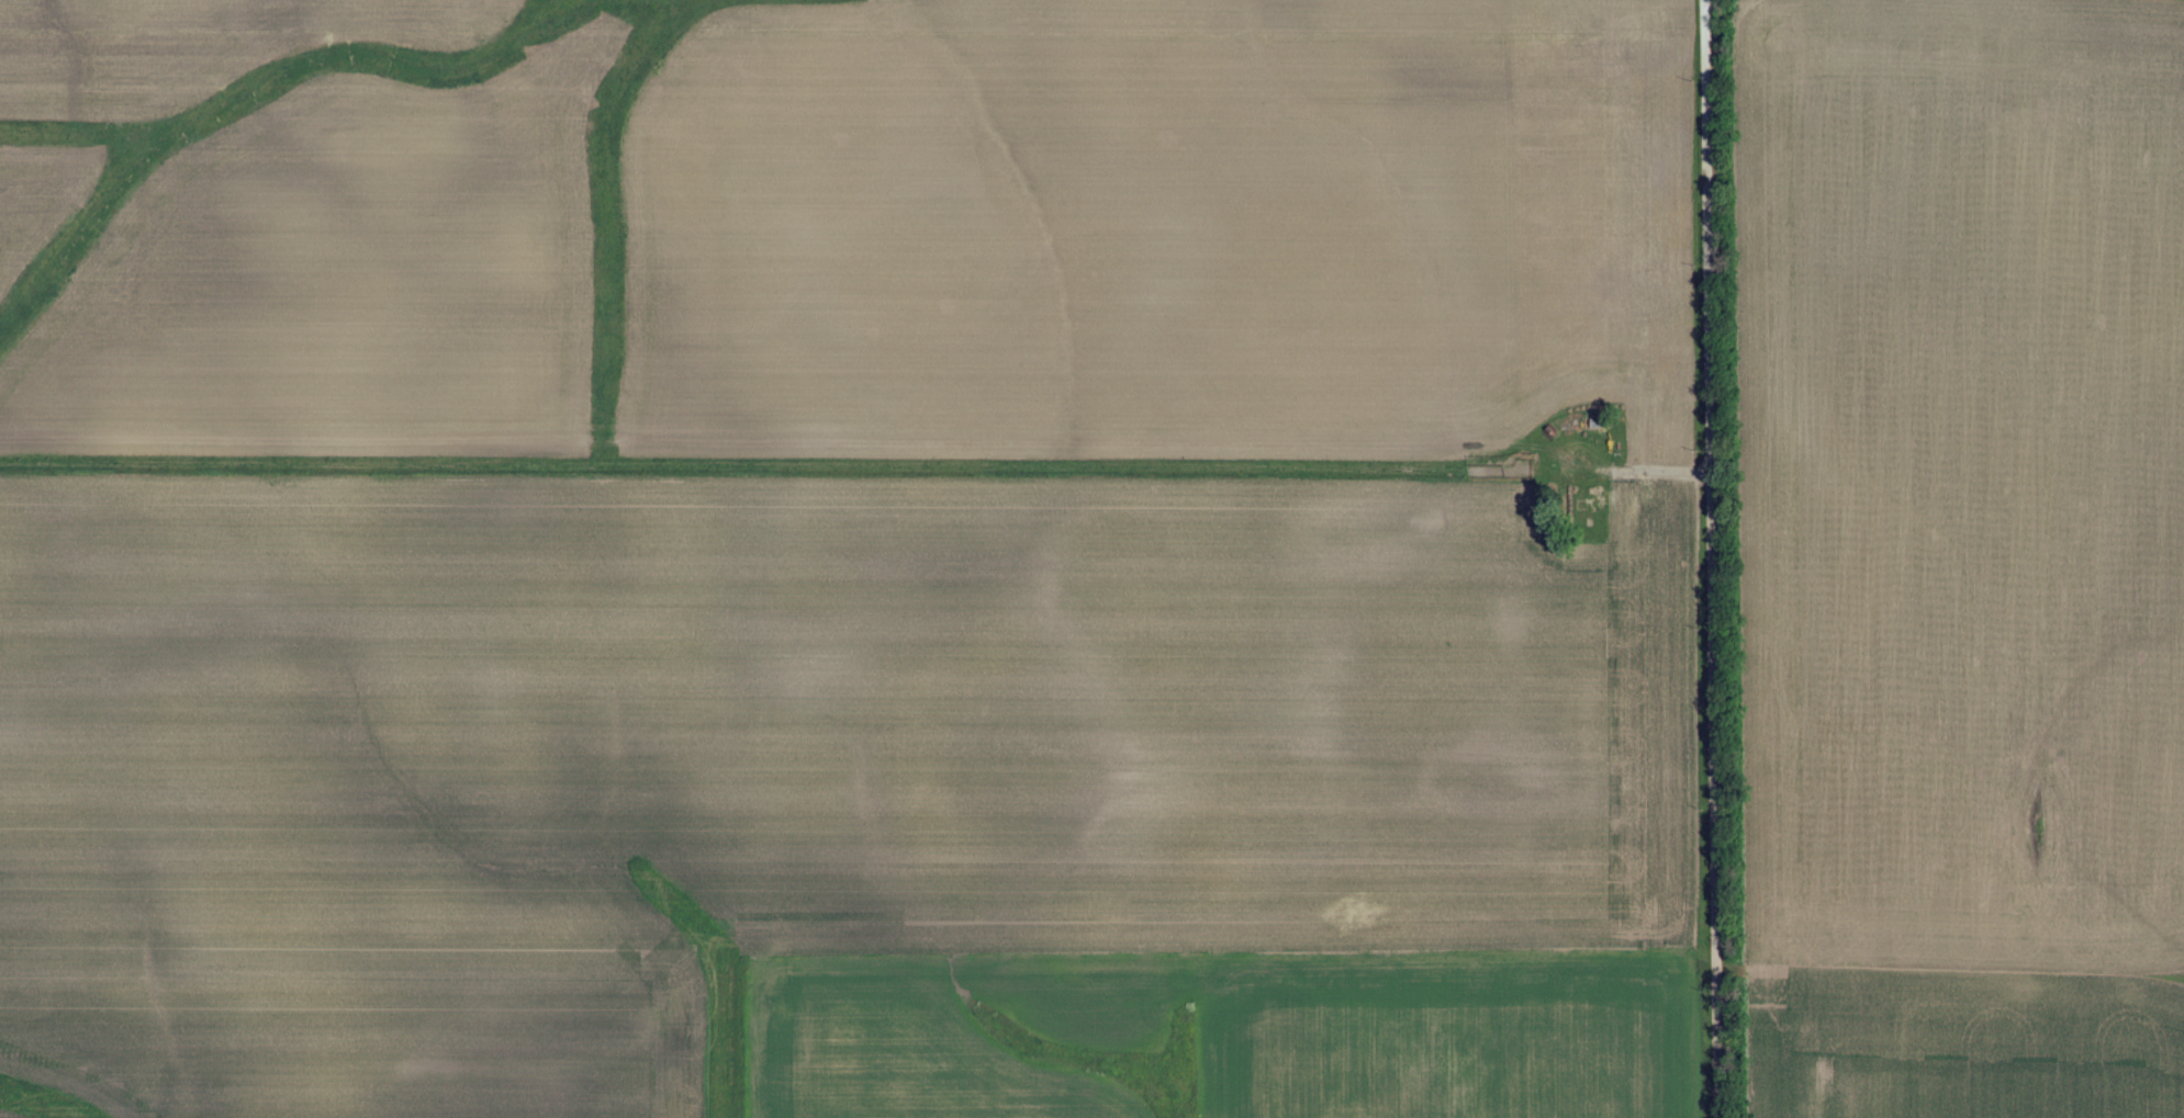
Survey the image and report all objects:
road: (1706, 558)

